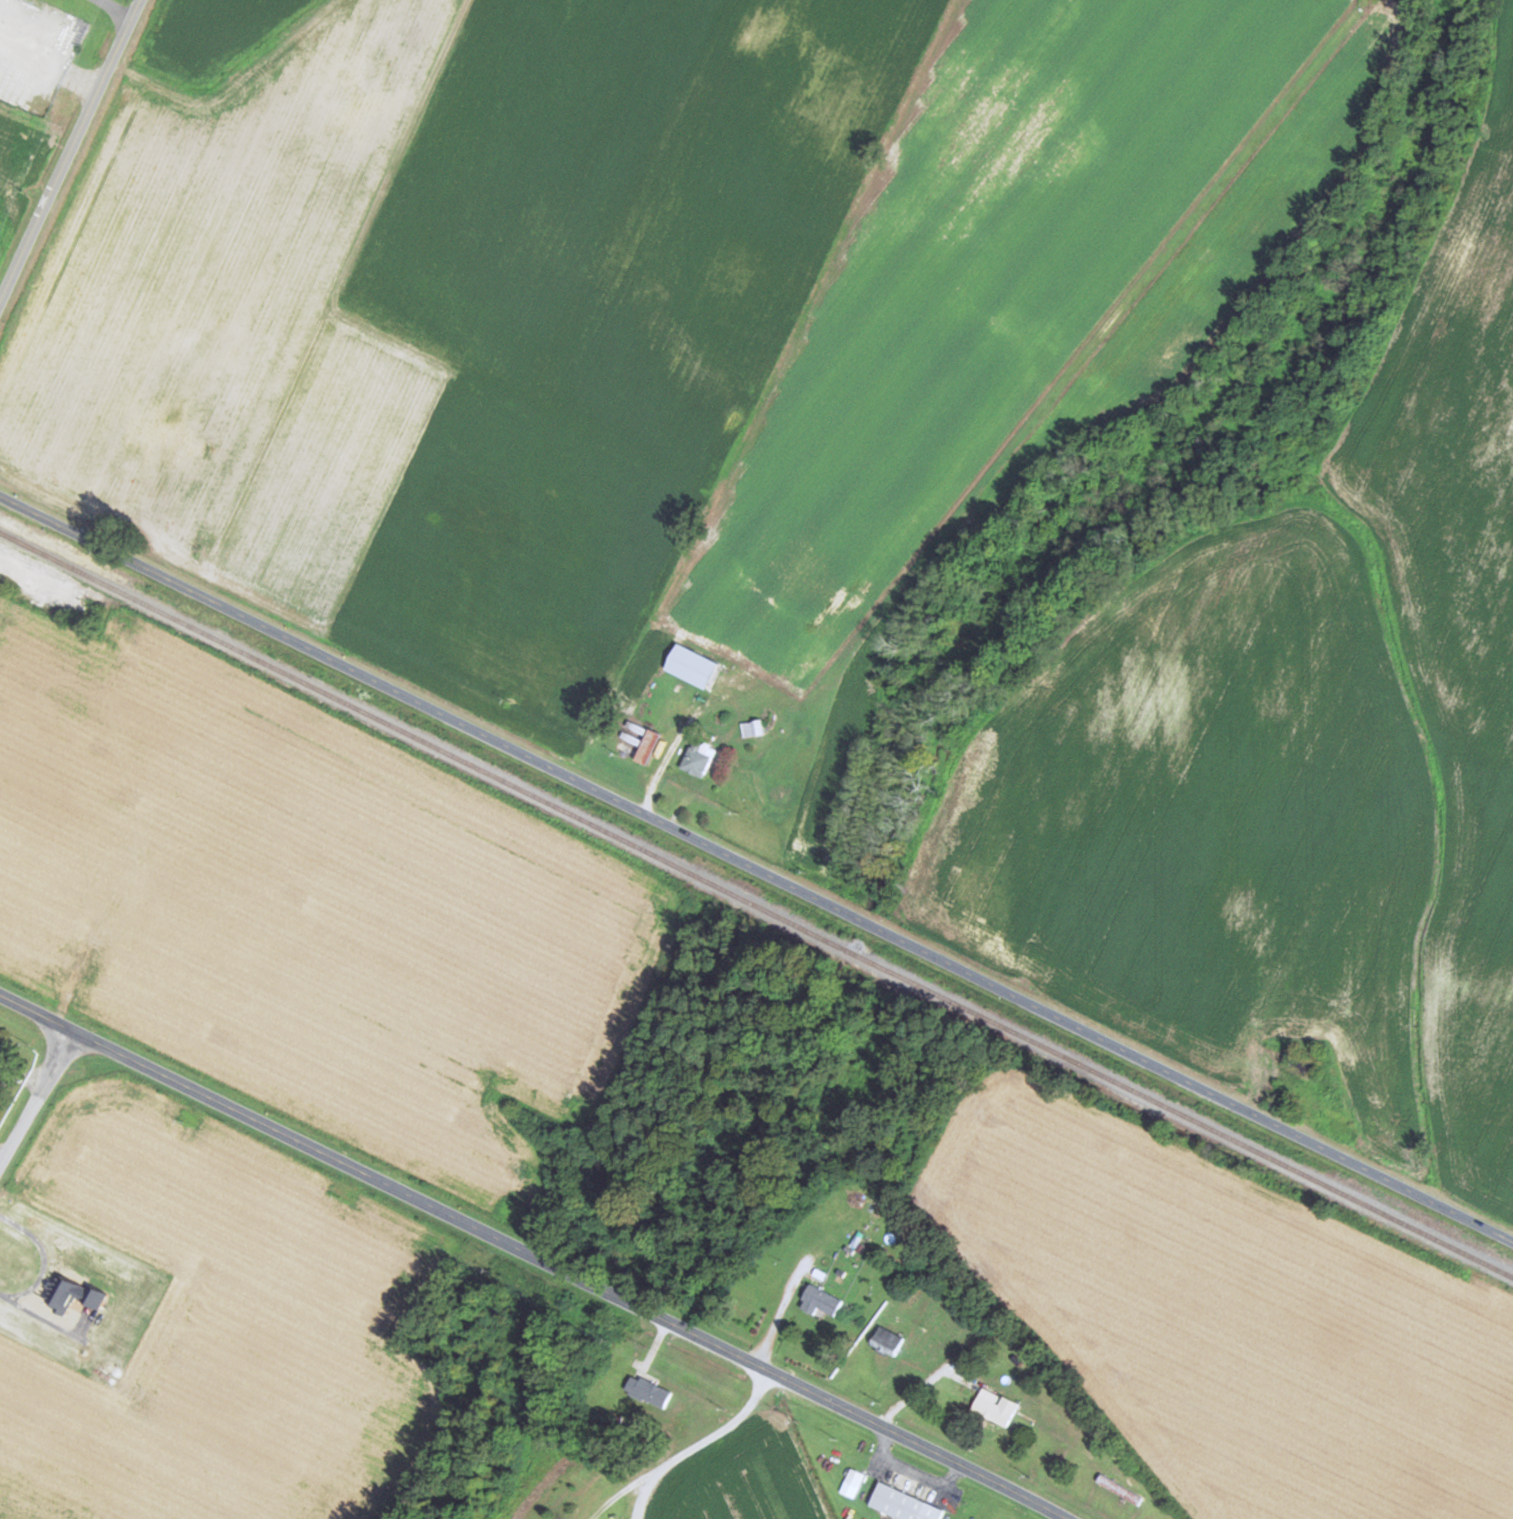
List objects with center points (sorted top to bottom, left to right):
building: (364, 57)
road: (71, 148)
railway: (40, 570)
building: (694, 666)
building: (752, 728)
building: (650, 746)
building: (700, 757)
road: (755, 870)
railway: (756, 903)
road: (36, 1013)
road: (36, 1097)
road: (568, 1274)
building: (821, 1300)
building: (888, 1341)
building: (649, 1391)
building: (996, 1406)
building: (905, 1504)

